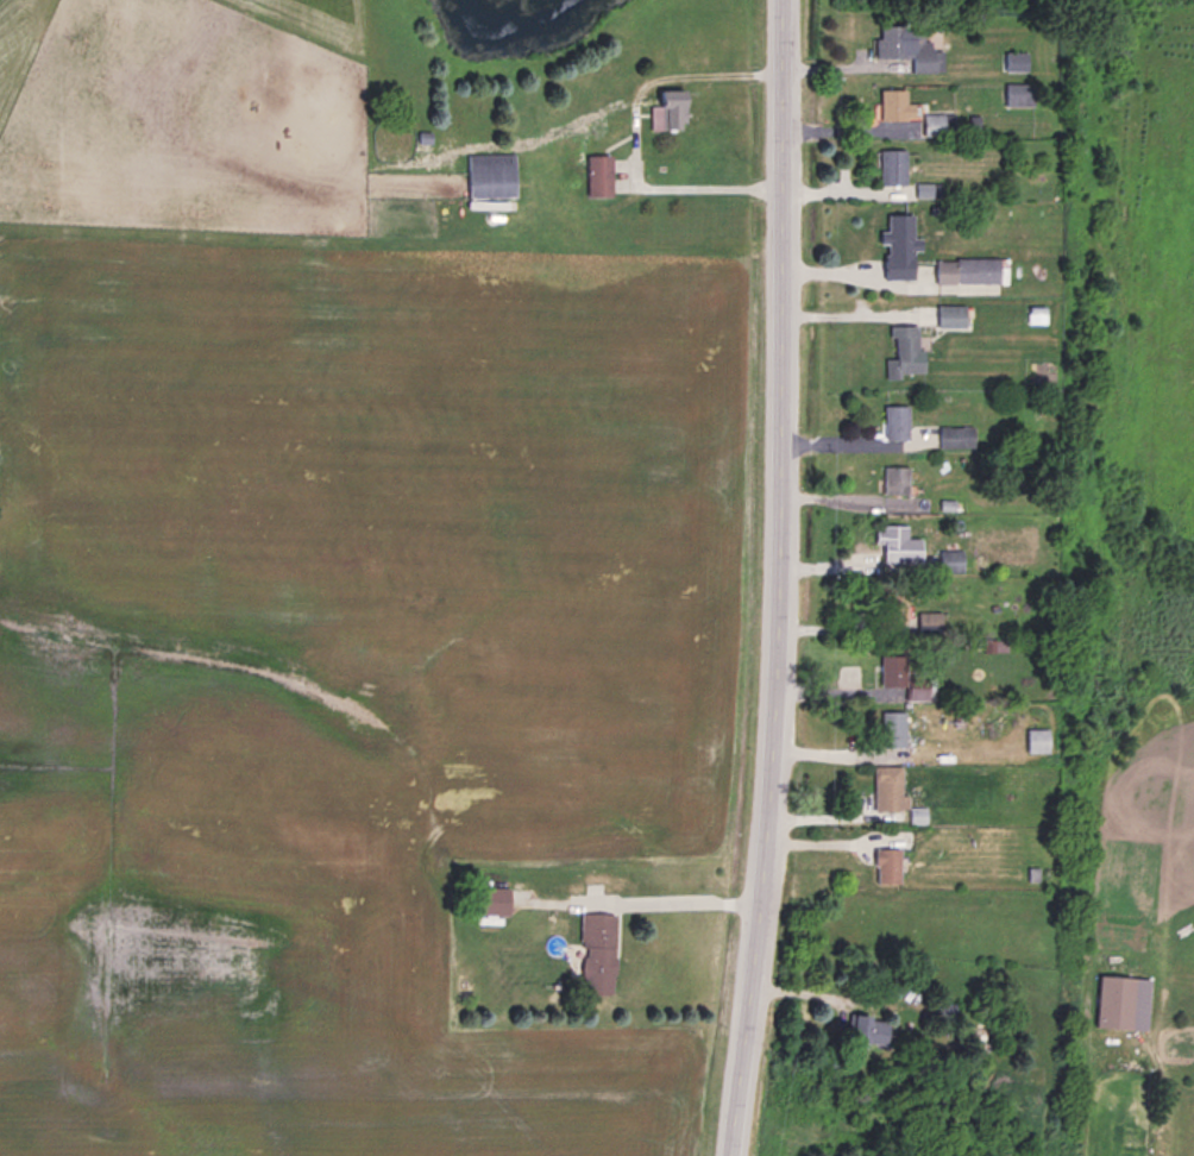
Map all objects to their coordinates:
building: (910, 45)
building: (1017, 59)
building: (1020, 92)
building: (671, 109)
building: (915, 112)
road: (629, 132)
building: (893, 165)
building: (599, 171)
building: (491, 174)
building: (905, 230)
building: (968, 269)
road: (850, 313)
building: (950, 313)
building: (905, 347)
building: (897, 420)
building: (957, 434)
building: (897, 478)
building: (900, 545)
building: (951, 558)
road: (783, 578)
building: (895, 605)
building: (907, 674)
building: (893, 727)
building: (1039, 739)
building: (891, 785)
building: (888, 863)
road: (690, 898)
building: (598, 947)
building: (1118, 999)
building: (874, 1026)

